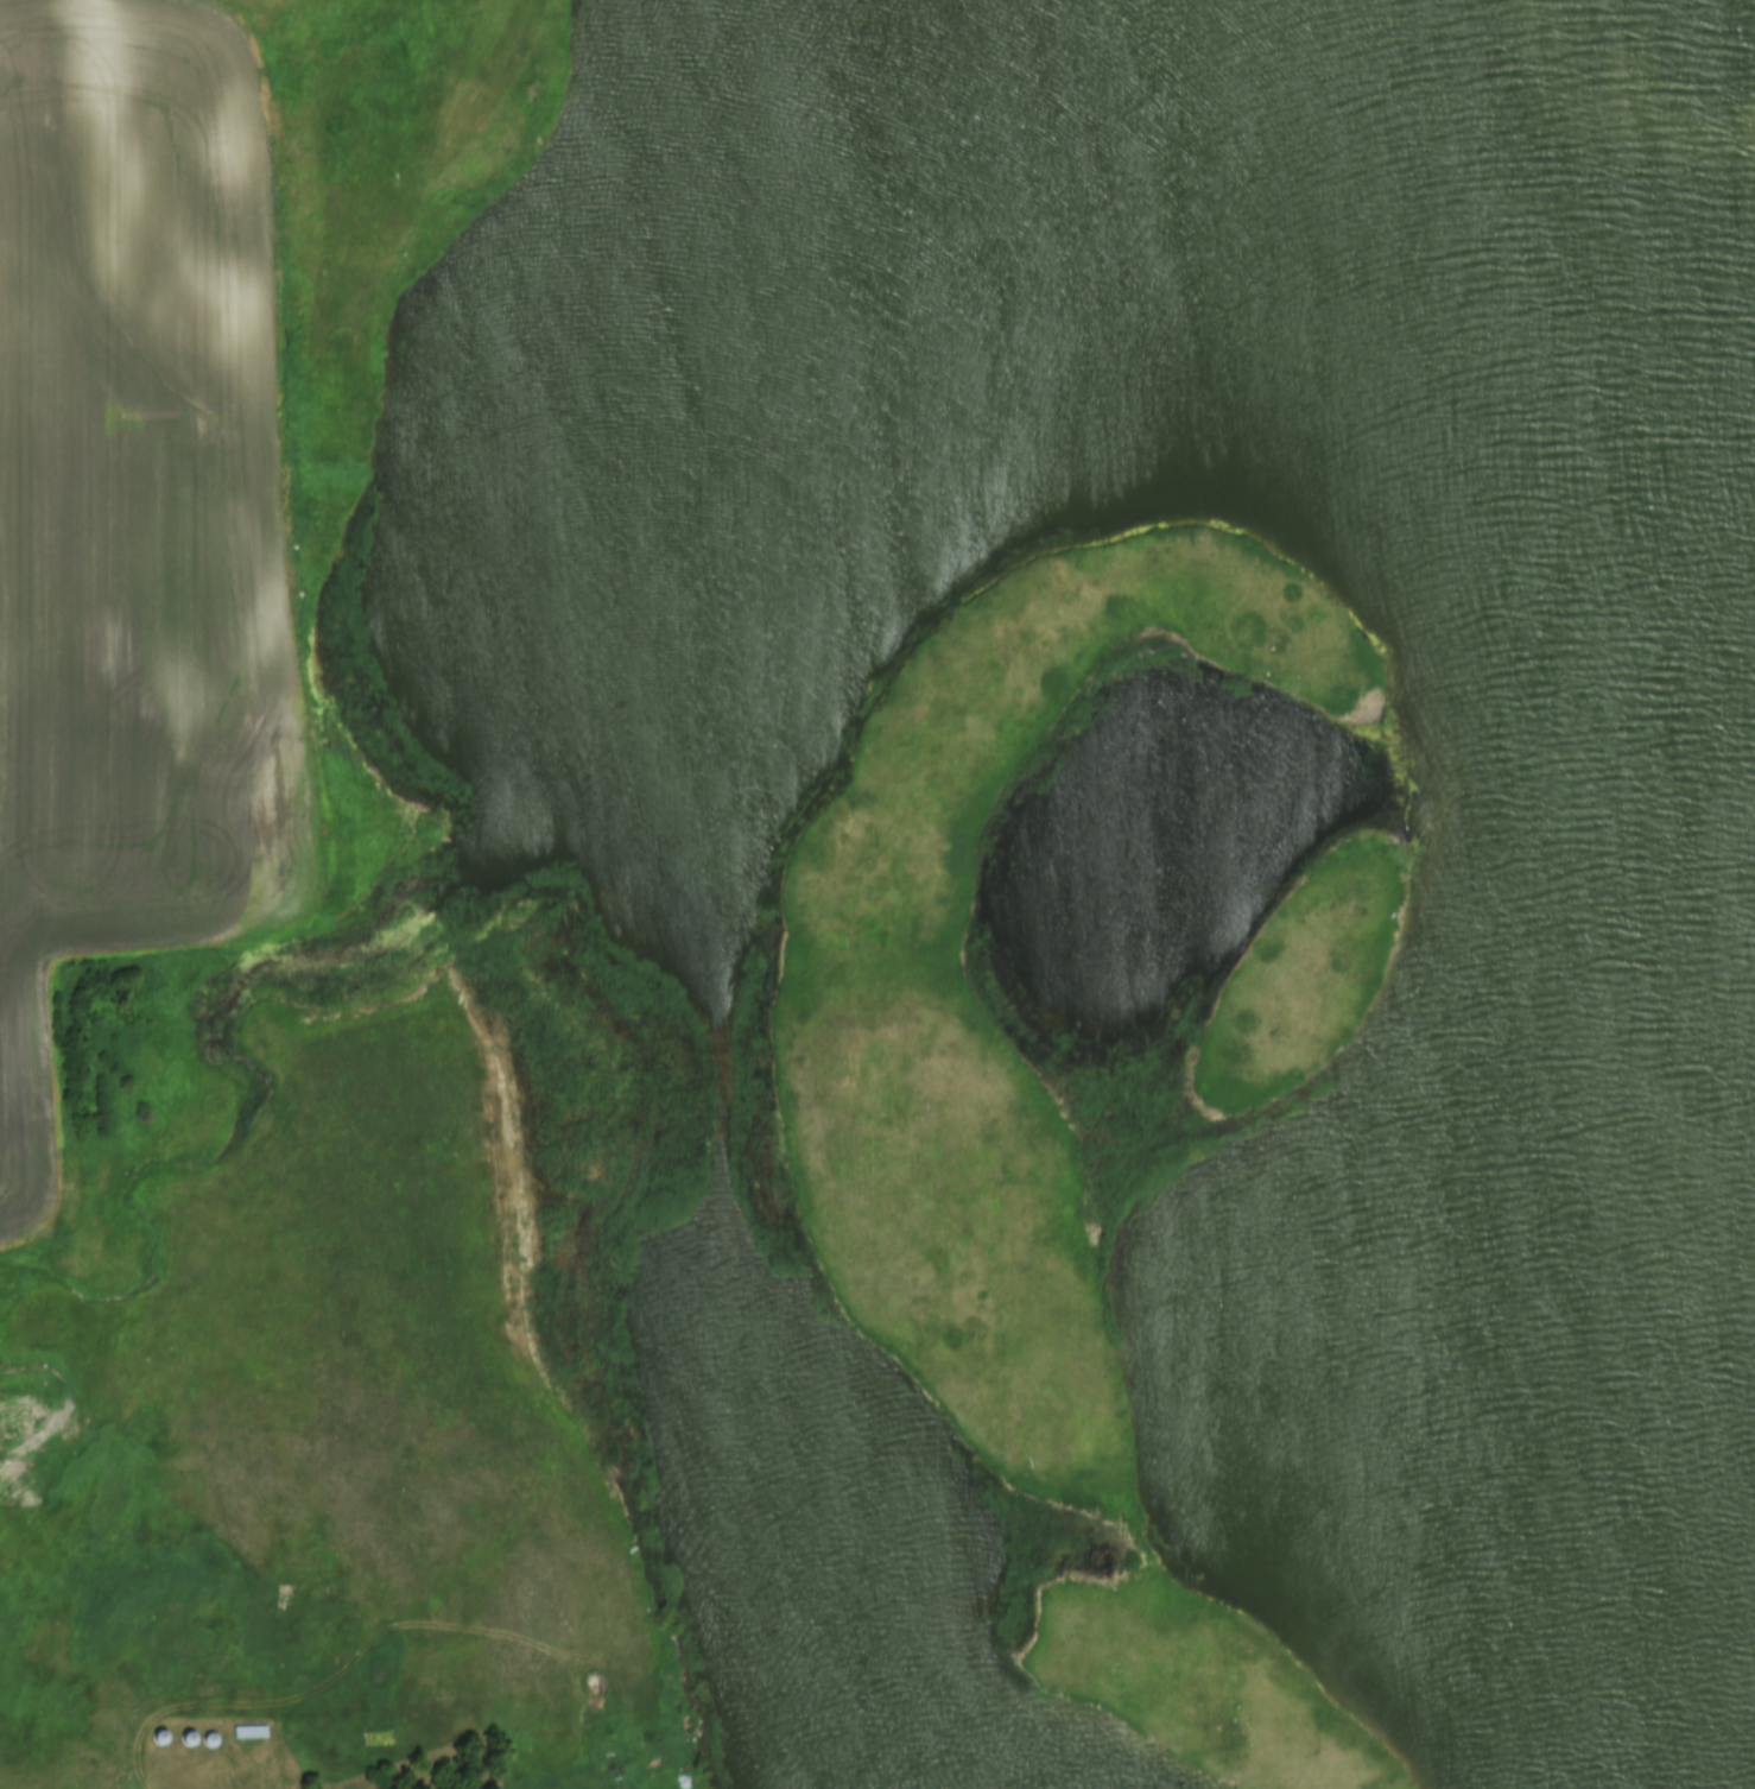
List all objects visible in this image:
building: (298, 1572)
building: (247, 1731)

